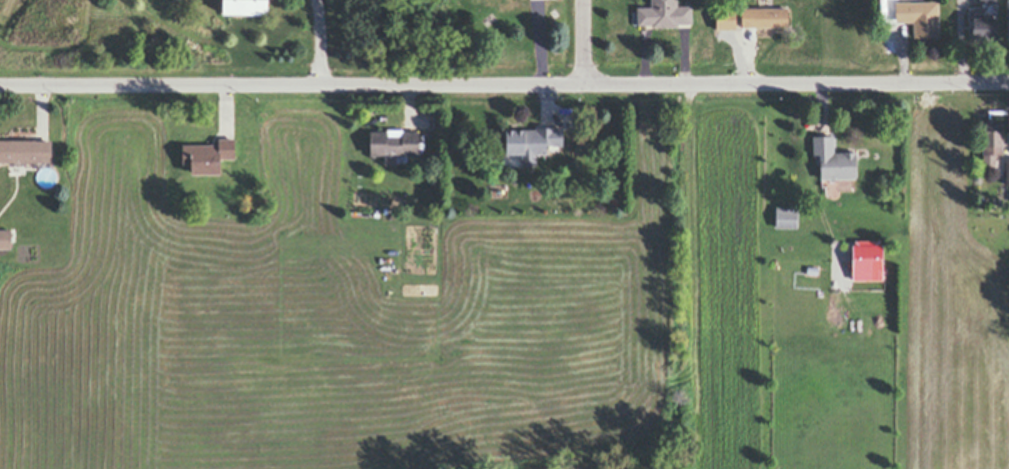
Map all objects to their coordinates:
building: (987, 1)
building: (247, 6)
building: (664, 15)
building: (917, 17)
building: (763, 18)
building: (1006, 21)
building: (982, 29)
building: (727, 31)
road: (331, 42)
road: (585, 42)
road: (504, 84)
building: (989, 138)
building: (533, 141)
building: (390, 144)
building: (999, 144)
building: (25, 151)
building: (209, 156)
building: (831, 159)
building: (27, 165)
building: (1006, 172)
building: (45, 176)
building: (833, 195)
building: (613, 201)
building: (784, 218)
building: (4, 239)
building: (866, 259)

